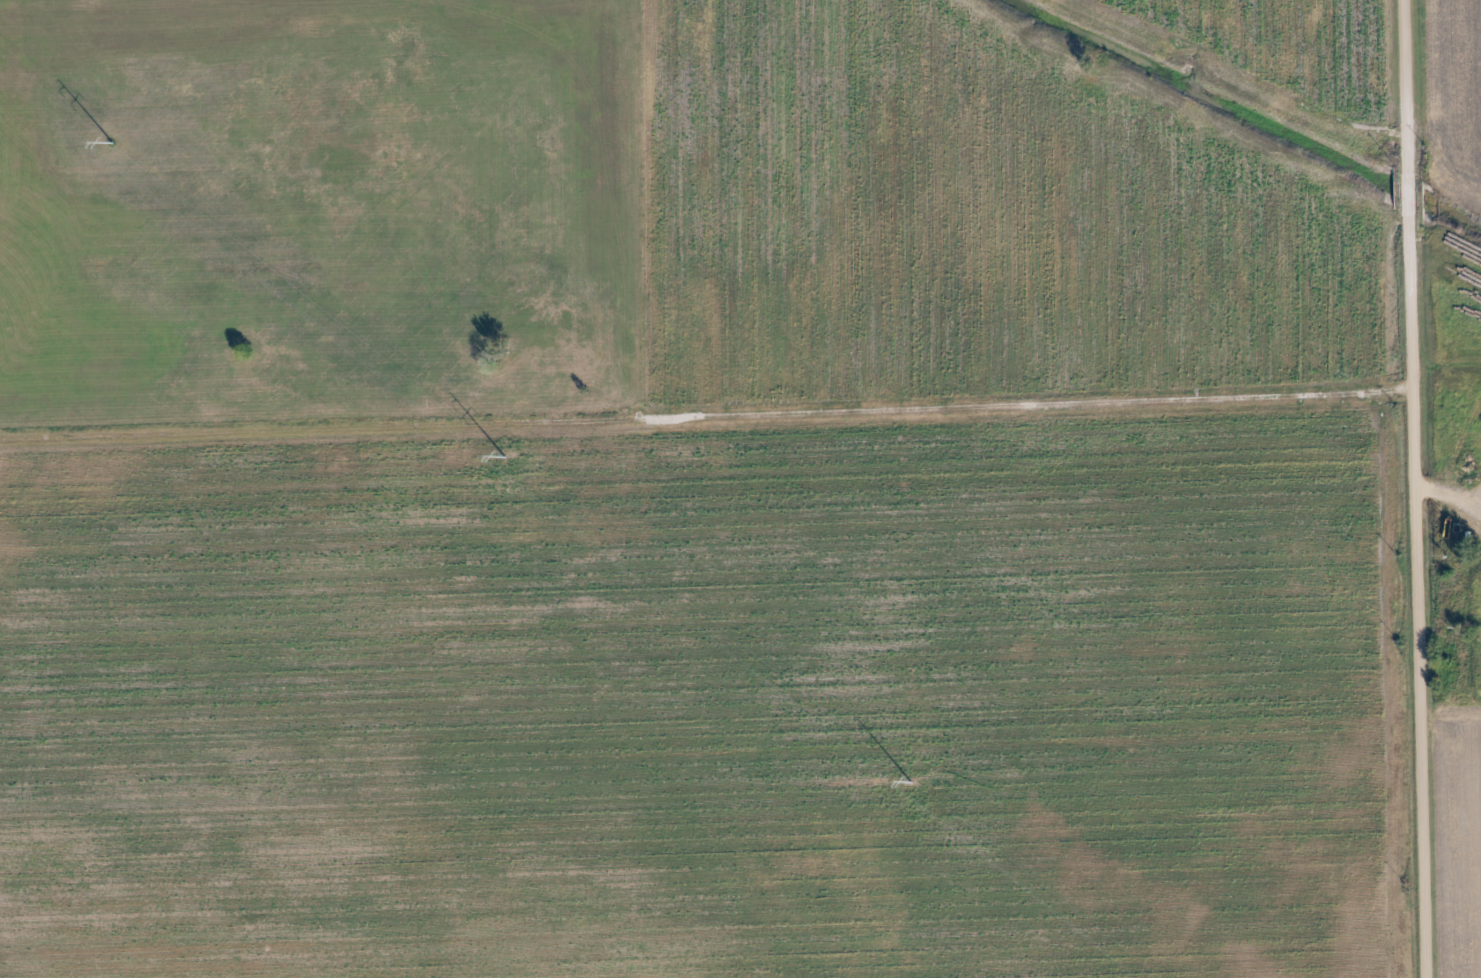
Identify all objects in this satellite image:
power tower: (109, 142)
power tower: (504, 455)
road: (1413, 488)
road: (1453, 490)
power tower: (914, 782)

